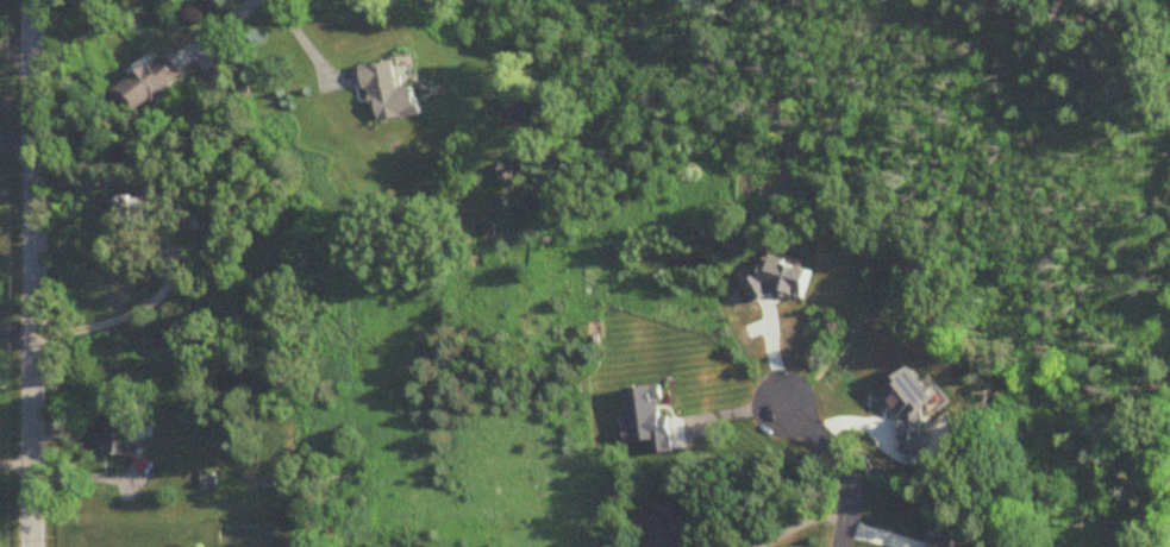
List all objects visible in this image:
road: (305, 46)
building: (217, 78)
building: (149, 83)
building: (386, 94)
building: (139, 208)
road: (31, 272)
road: (106, 319)
building: (118, 441)
road: (833, 467)
road: (799, 523)
building: (664, 529)
building: (944, 542)

